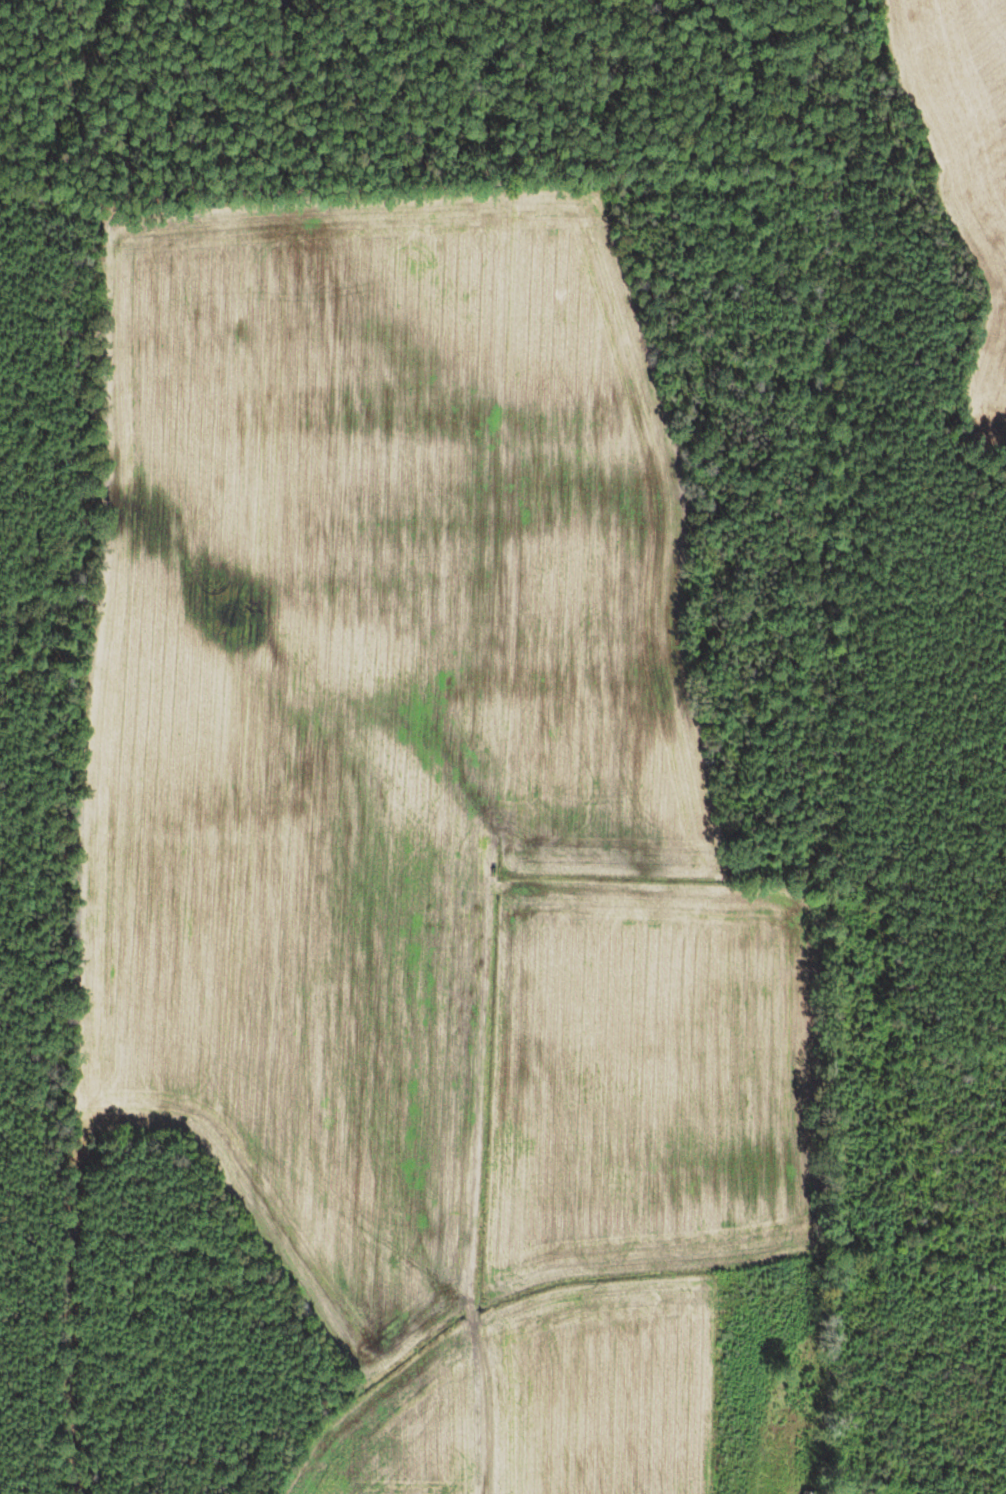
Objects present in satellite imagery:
road: (471, 1408)

